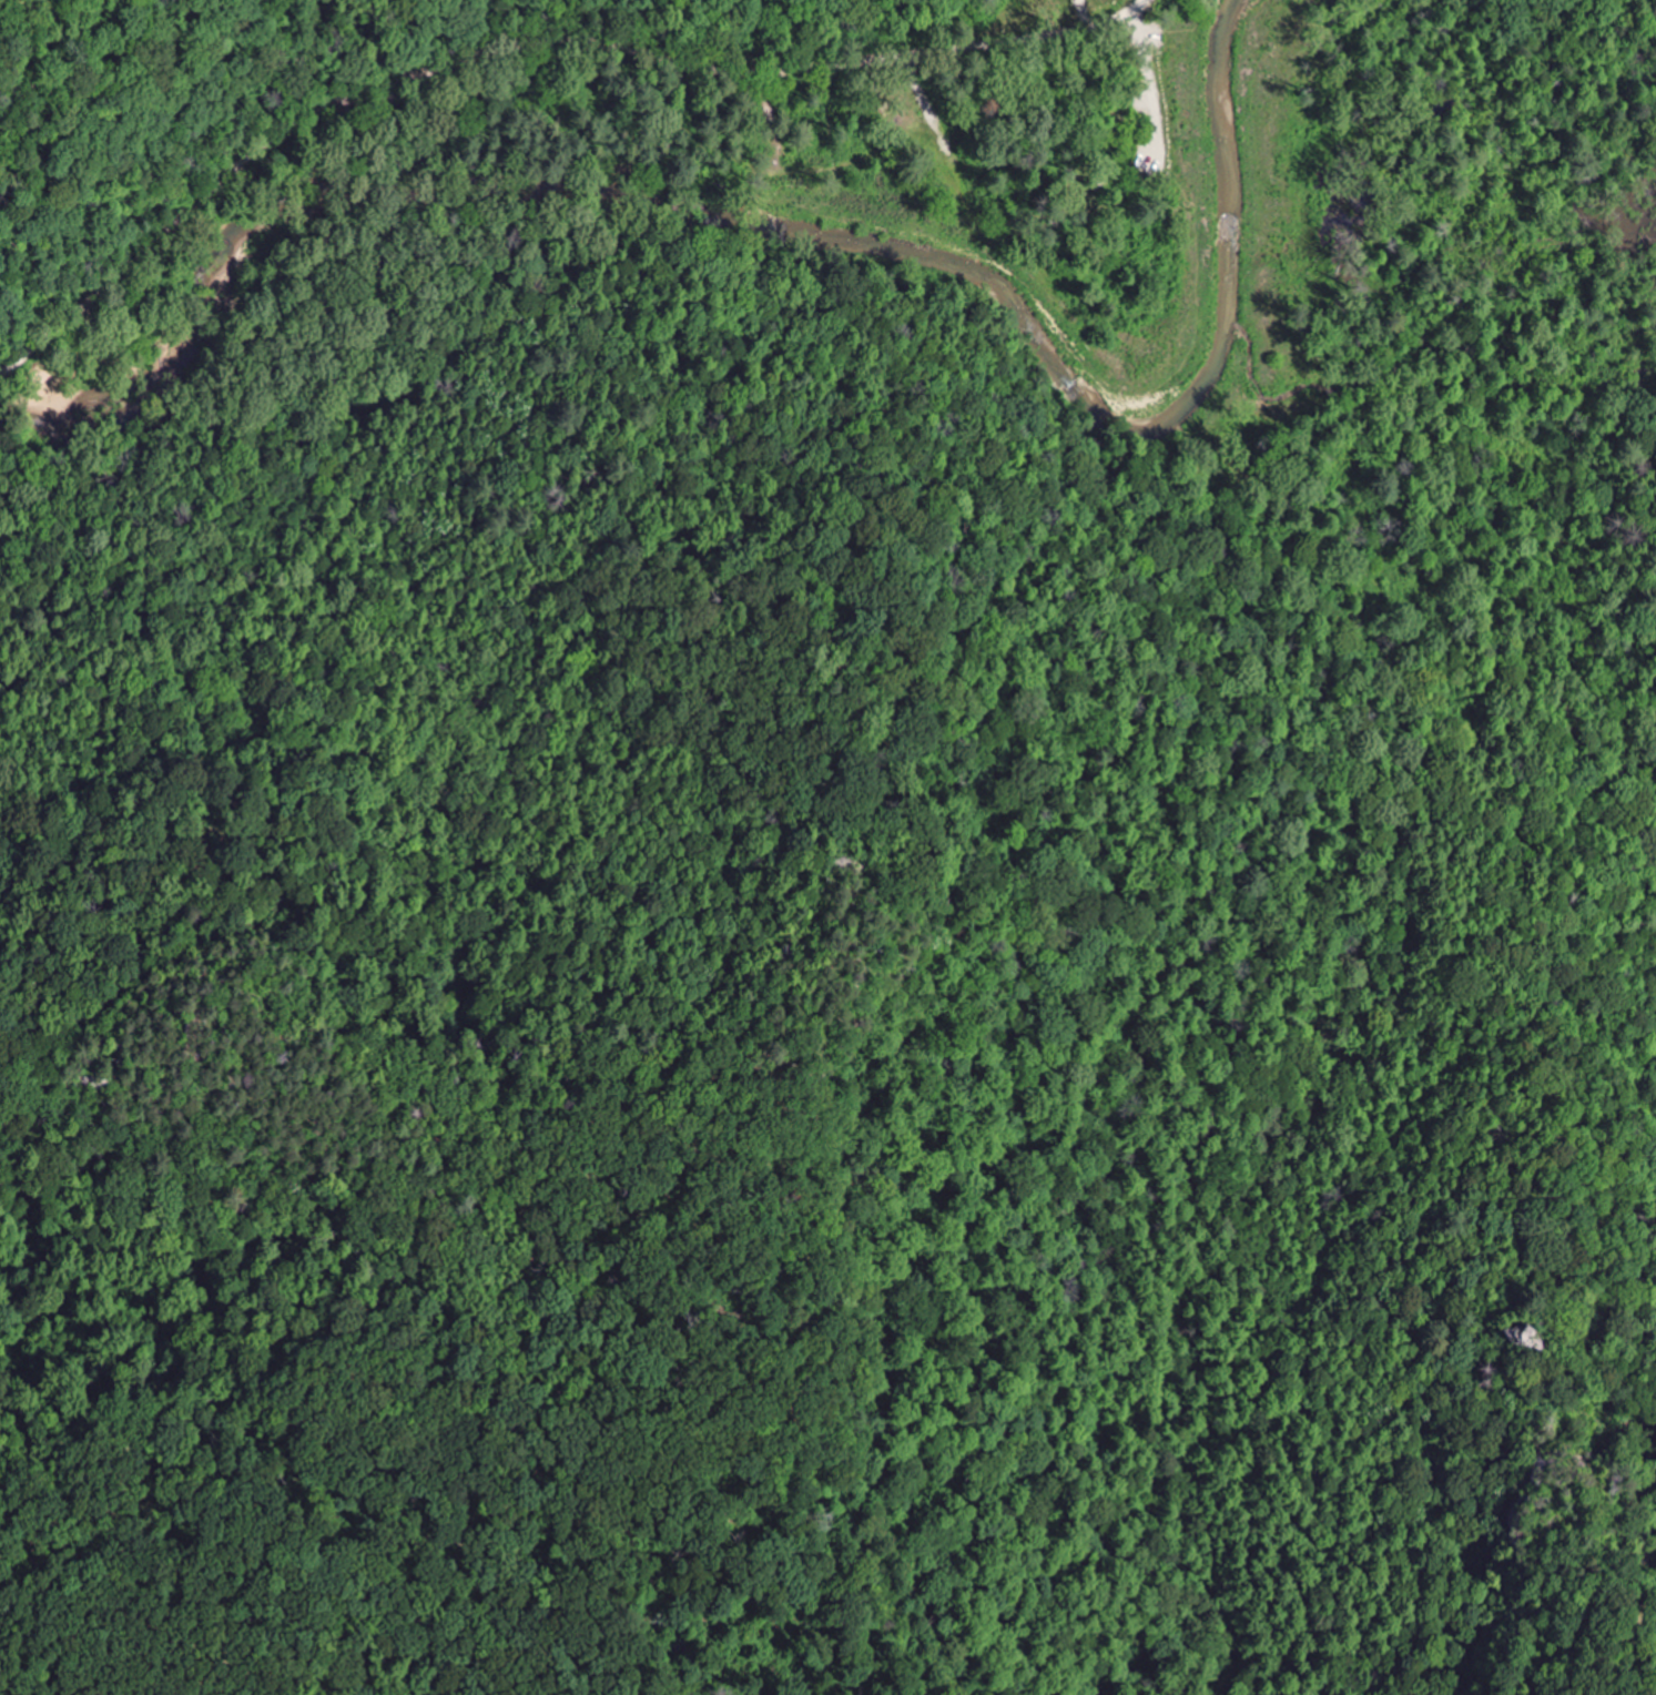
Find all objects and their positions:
road: (526, 48)
road: (1426, 459)

